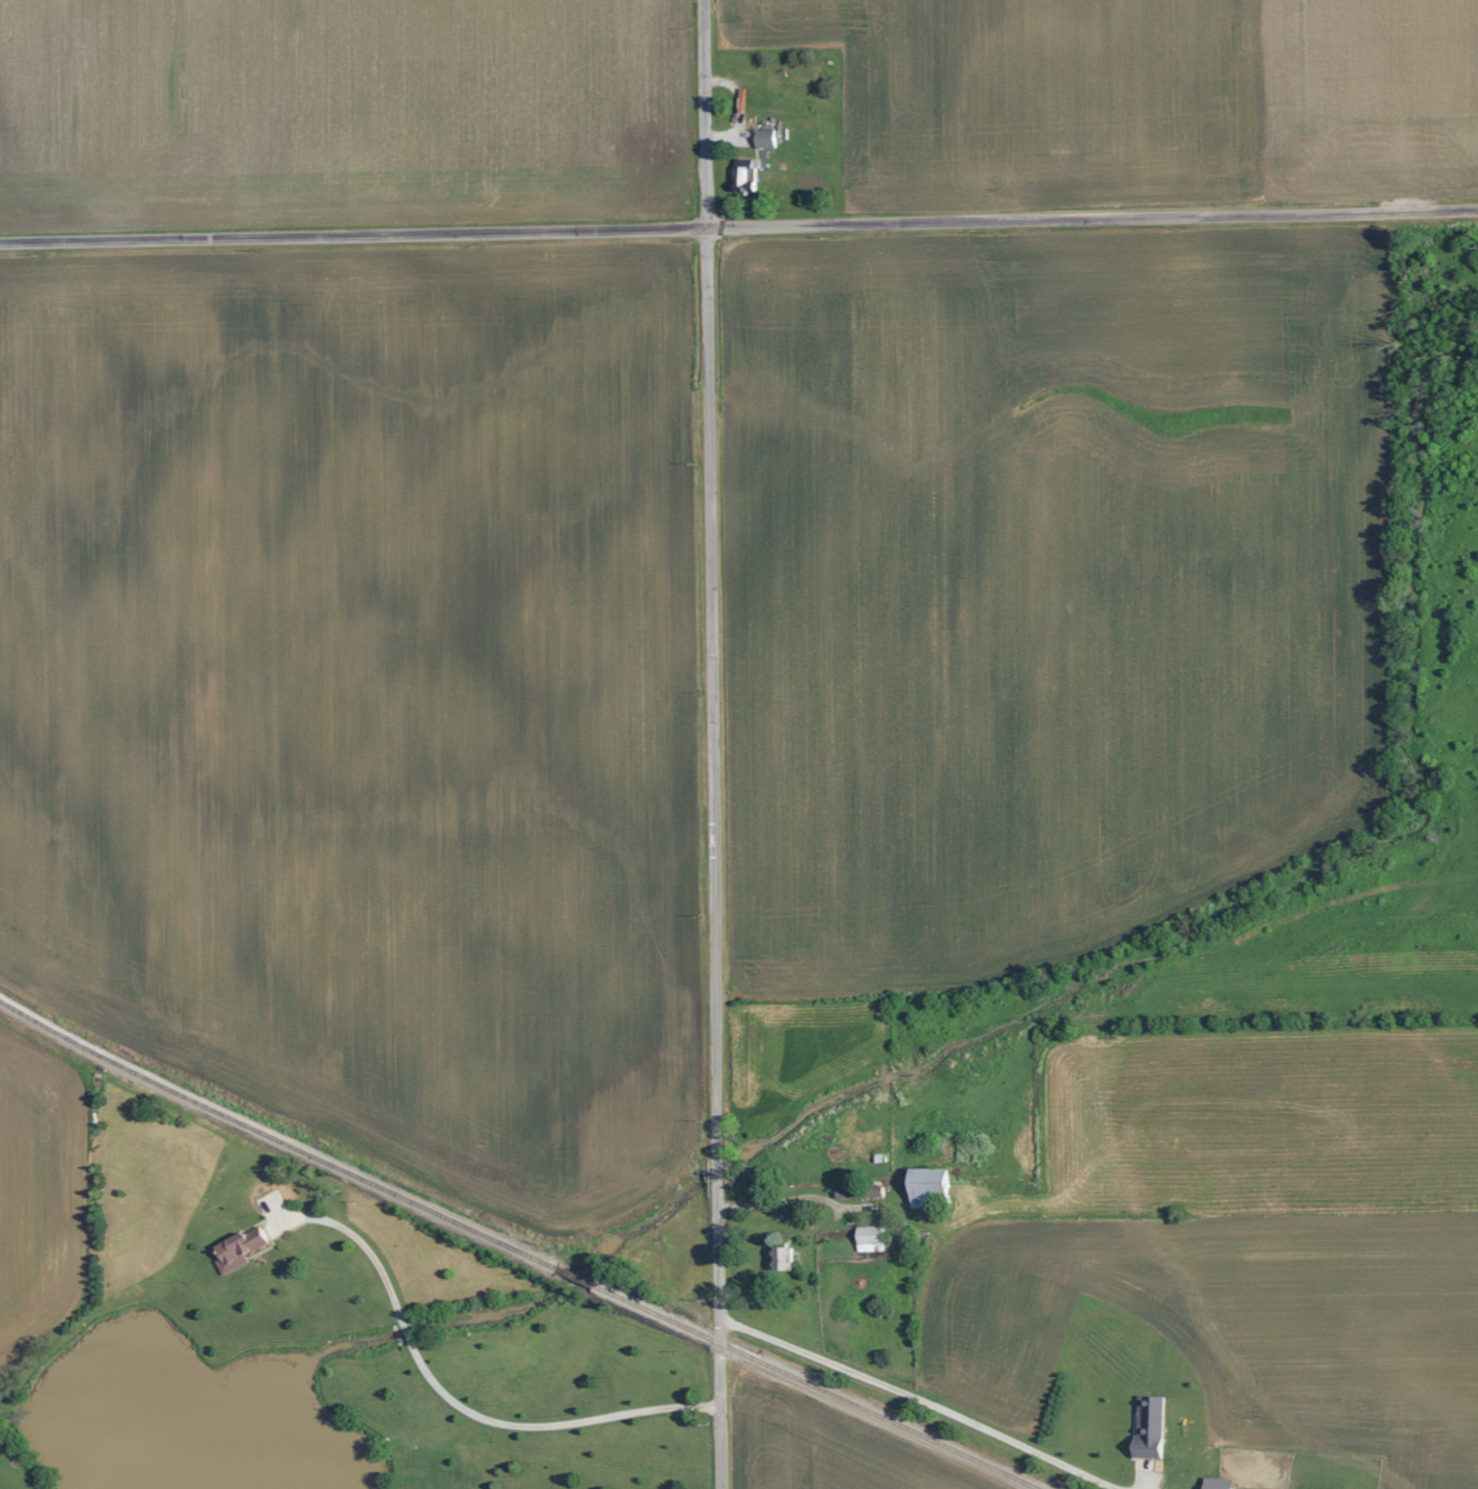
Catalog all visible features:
building: (770, 137)
building: (753, 174)
road: (739, 223)
road: (711, 744)
building: (938, 1187)
building: (876, 1238)
building: (248, 1248)
railway: (518, 1248)
building: (789, 1258)
road: (454, 1398)
road: (926, 1399)
building: (1156, 1427)

